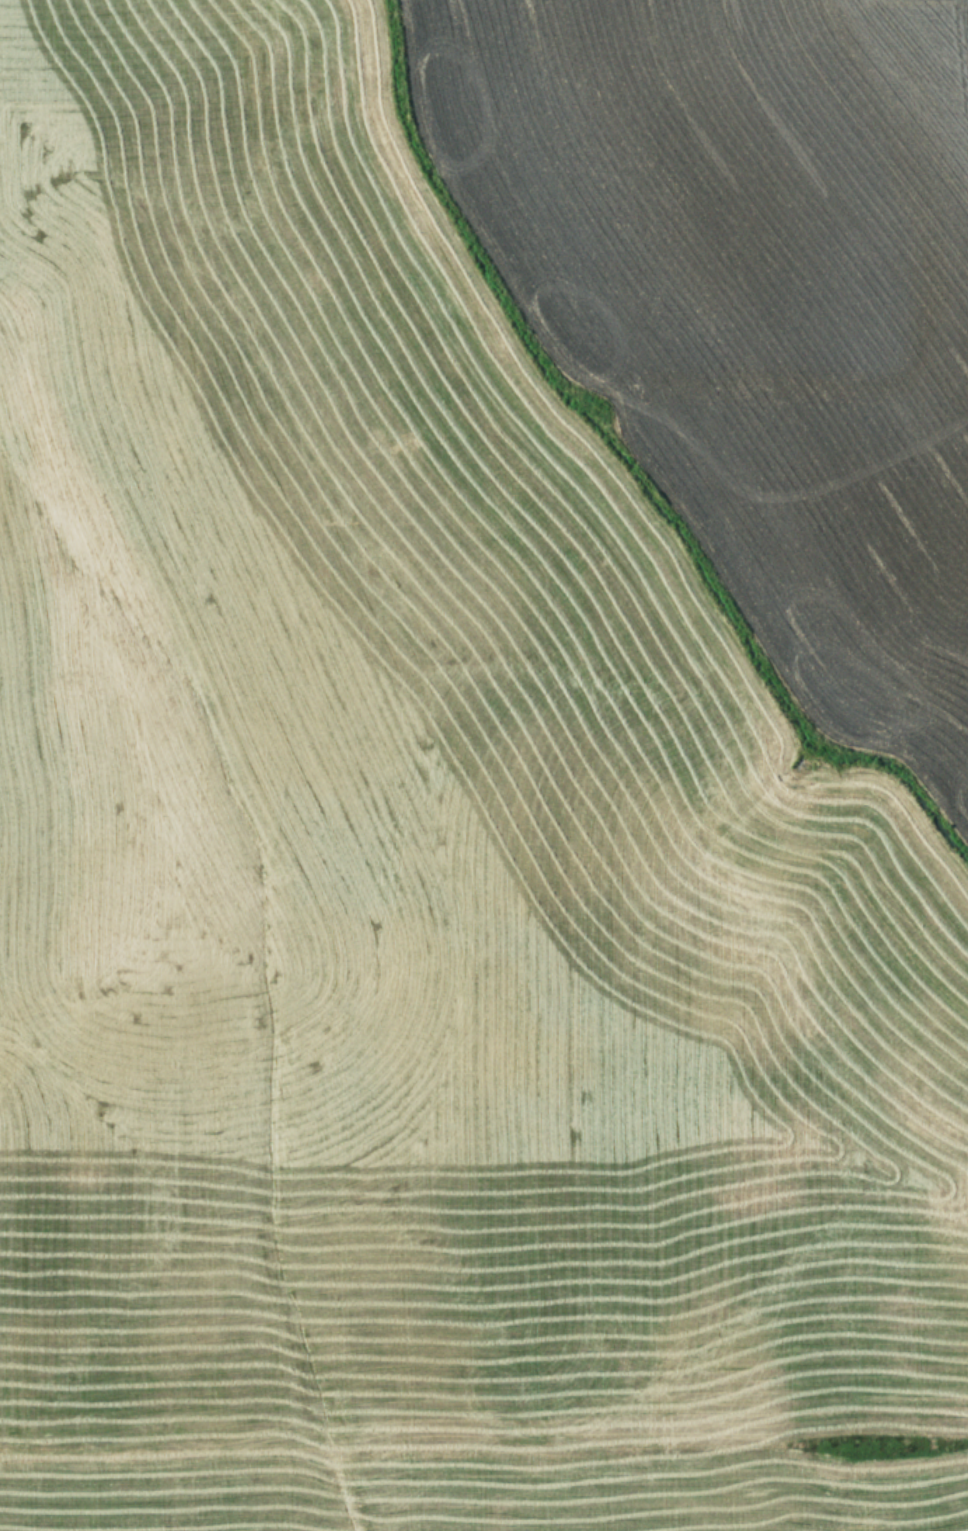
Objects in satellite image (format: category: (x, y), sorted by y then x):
crop: (484, 765)

